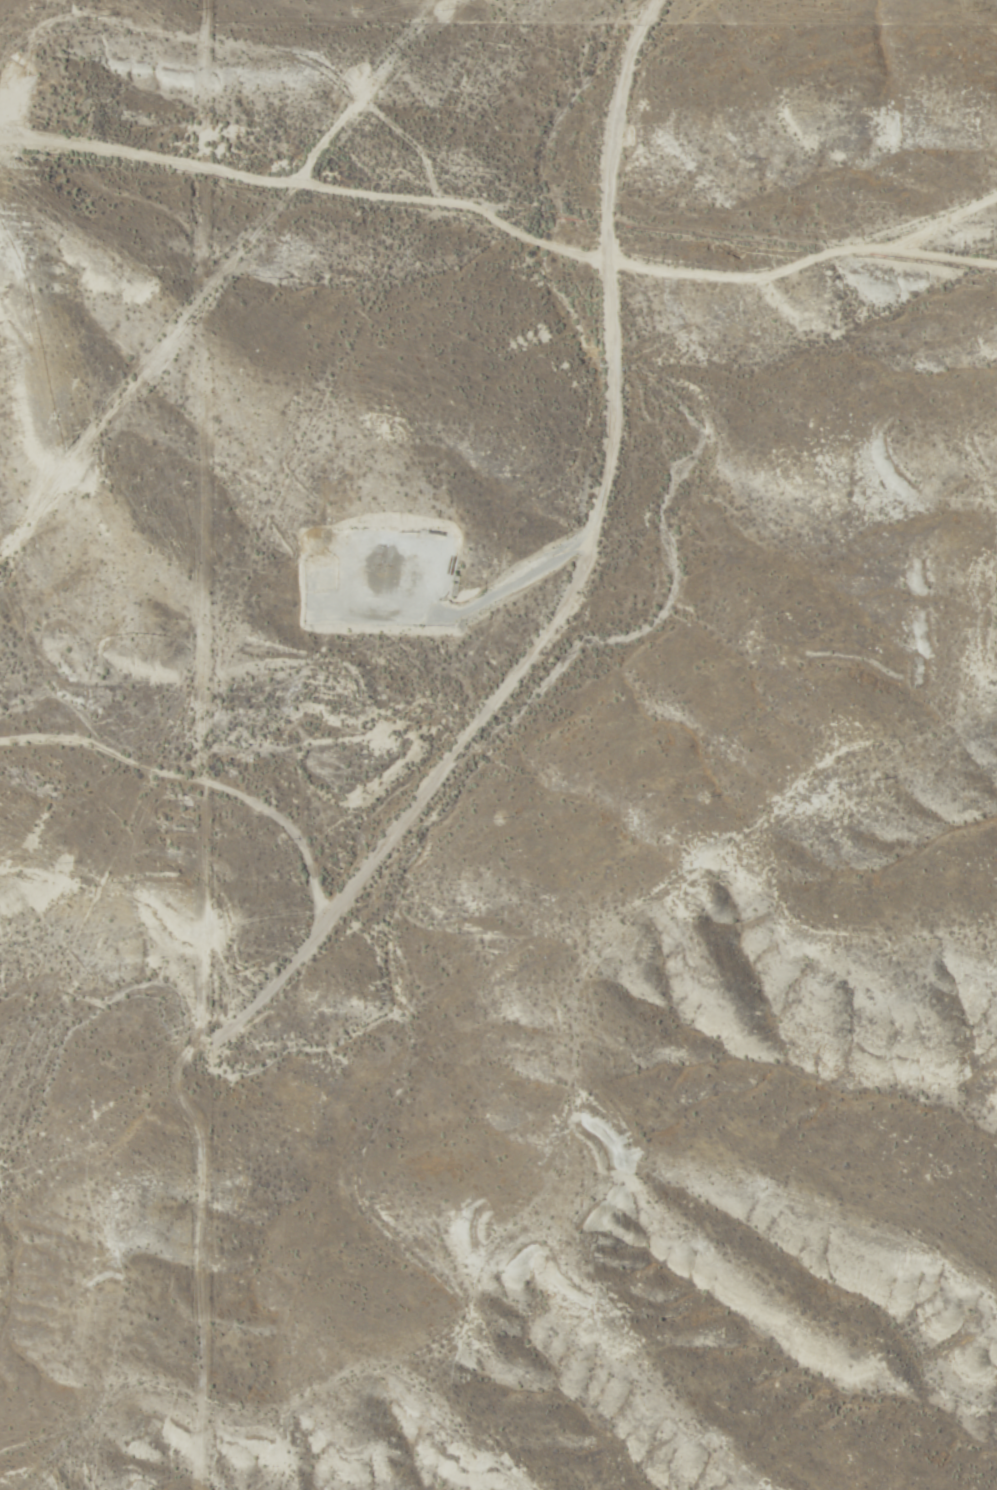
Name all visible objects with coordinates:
road: (591, 137)
road: (221, 278)

